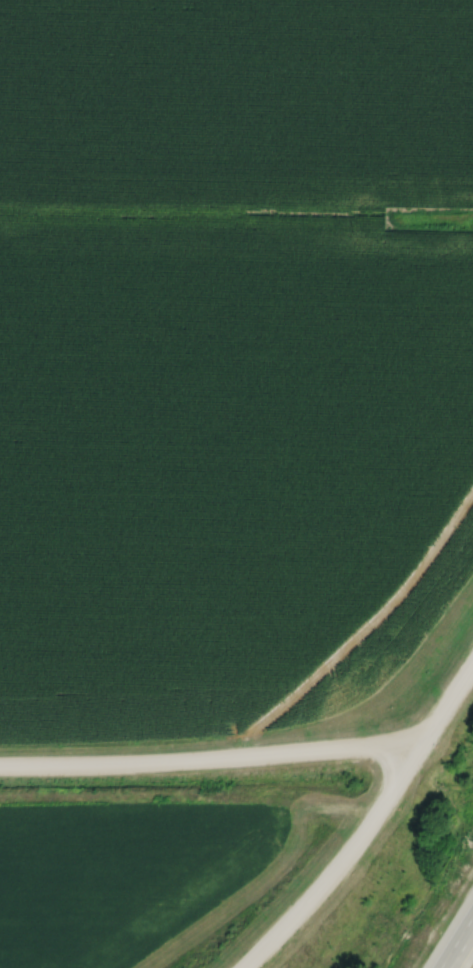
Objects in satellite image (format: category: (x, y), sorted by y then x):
road: (204, 761)
road: (367, 820)
road: (461, 949)

